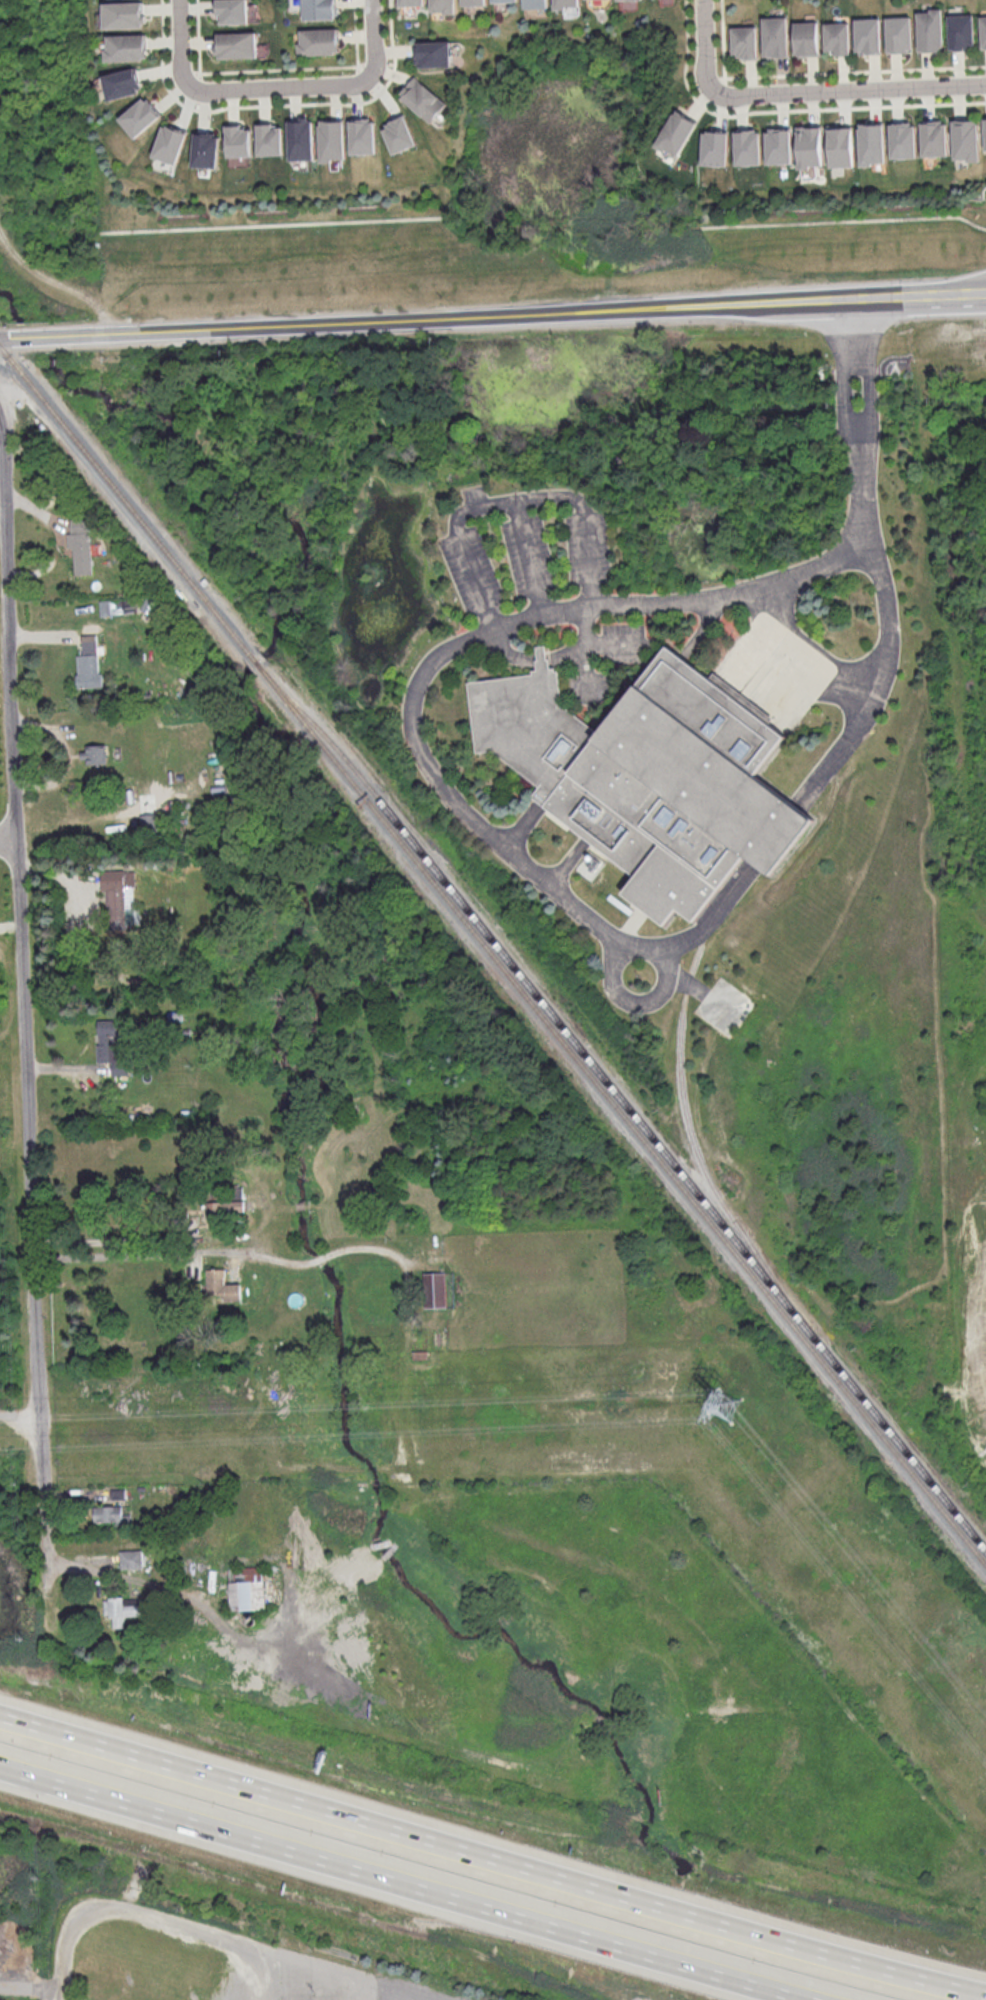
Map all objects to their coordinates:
building: (505, 1)
building: (412, 2)
building: (474, 2)
building: (537, 4)
building: (568, 4)
building: (443, 6)
building: (320, 9)
building: (233, 11)
building: (123, 14)
building: (931, 30)
building: (983, 30)
building: (963, 31)
building: (901, 34)
building: (870, 35)
building: (776, 36)
building: (839, 37)
building: (807, 38)
building: (320, 41)
road: (378, 41)
building: (746, 42)
building: (237, 45)
building: (126, 47)
building: (435, 53)
road: (58, 66)
building: (122, 83)
road: (238, 91)
road: (803, 92)
building: (424, 99)
building: (141, 116)
park: (43, 117)
building: (985, 131)
building: (677, 133)
building: (401, 135)
building: (364, 136)
building: (935, 138)
building: (271, 139)
building: (302, 139)
building: (239, 140)
building: (333, 140)
building: (904, 140)
building: (967, 140)
building: (873, 143)
building: (171, 144)
building: (780, 145)
building: (811, 146)
building: (842, 146)
building: (716, 147)
building: (749, 147)
building: (207, 149)
road: (845, 219)
road: (274, 223)
road: (57, 287)
road: (873, 298)
road: (431, 317)
road: (53, 334)
road: (3, 336)
road: (867, 366)
road: (844, 368)
parking lot: (475, 493)
railway: (124, 496)
road: (511, 498)
building: (80, 544)
parking lot: (588, 546)
parking lot: (528, 553)
road: (529, 555)
parking lot: (471, 569)
building: (108, 607)
road: (505, 623)
road: (585, 641)
parking lot: (623, 642)
road: (552, 654)
building: (542, 657)
road: (800, 657)
railway: (256, 661)
building: (88, 663)
railway: (260, 665)
parking lot: (773, 669)
road: (875, 679)
parking lot: (591, 686)
building: (94, 753)
building: (649, 777)
road: (522, 823)
road: (8, 835)
road: (569, 861)
road: (711, 918)
road: (613, 973)
road: (23, 1033)
building: (109, 1053)
railway: (628, 1106)
railway: (625, 1116)
railway: (691, 1135)
building: (224, 1204)
road: (132, 1238)
road: (368, 1247)
road: (170, 1253)
road: (328, 1254)
road: (317, 1258)
building: (221, 1285)
building: (434, 1289)
power tower: (721, 1405)
building: (107, 1513)
building: (131, 1558)
building: (247, 1588)
building: (119, 1610)
road: (493, 1858)
road: (414, 1882)
road: (68, 1924)
road: (265, 1954)
road: (30, 1987)

